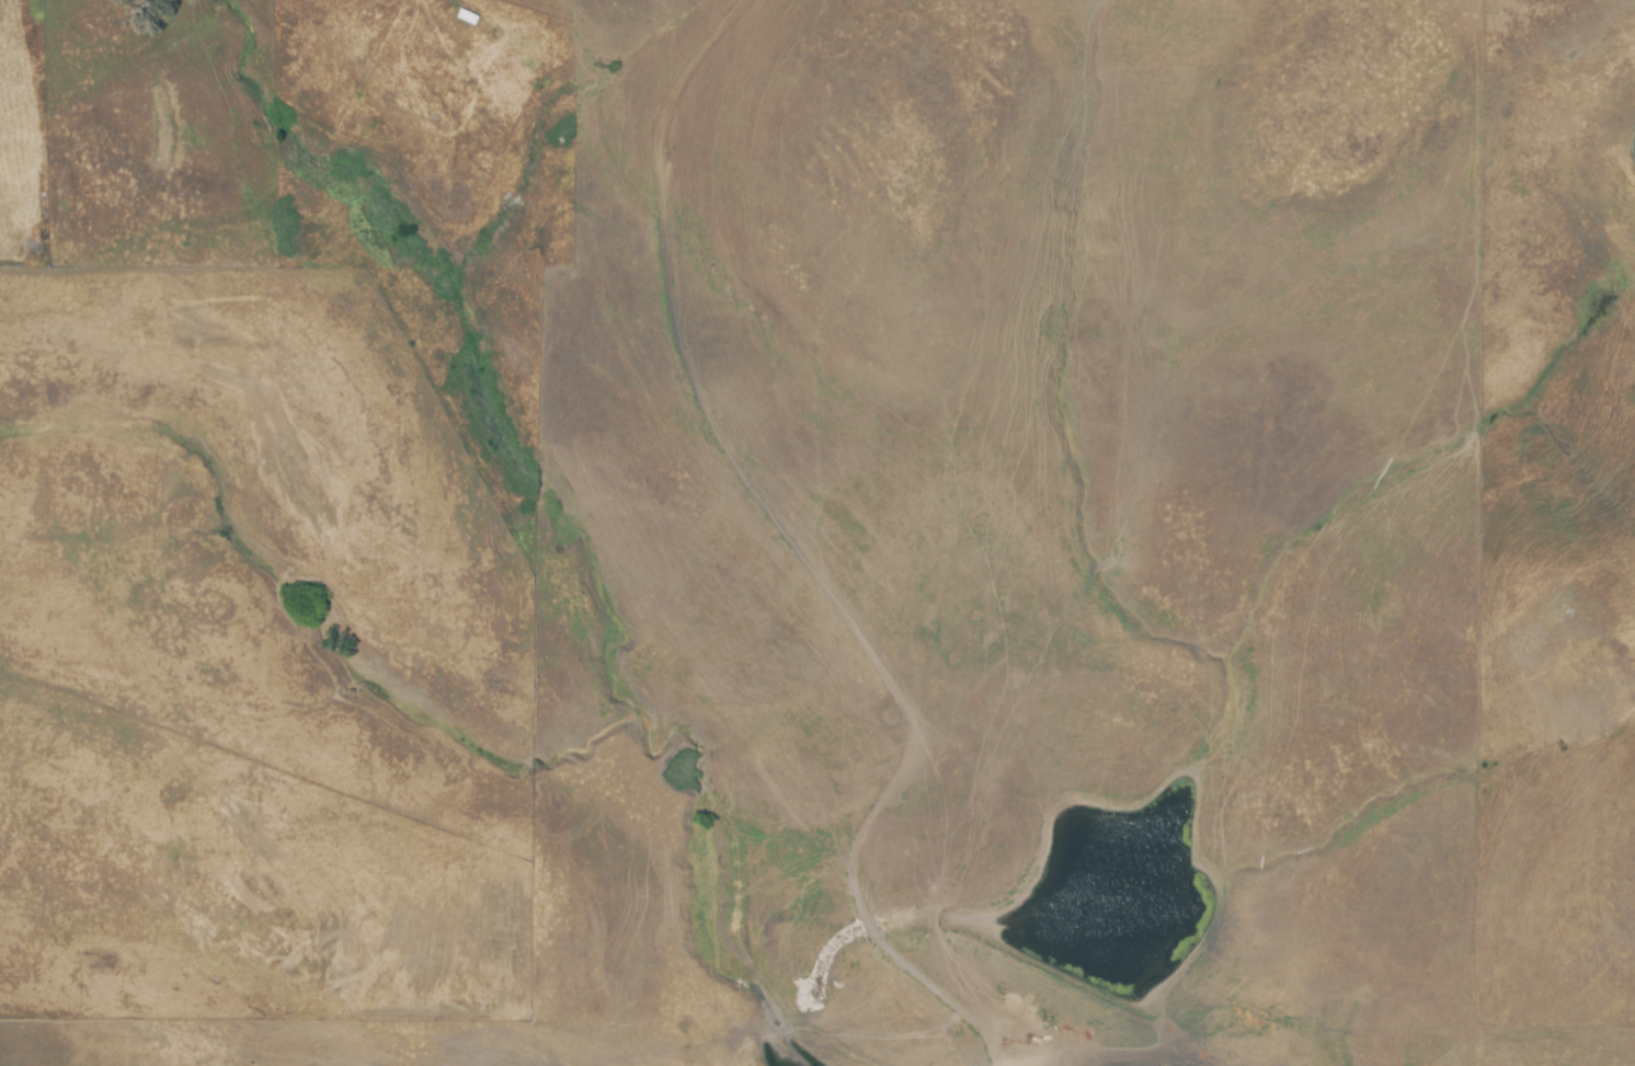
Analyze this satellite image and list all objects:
building: (466, 19)

